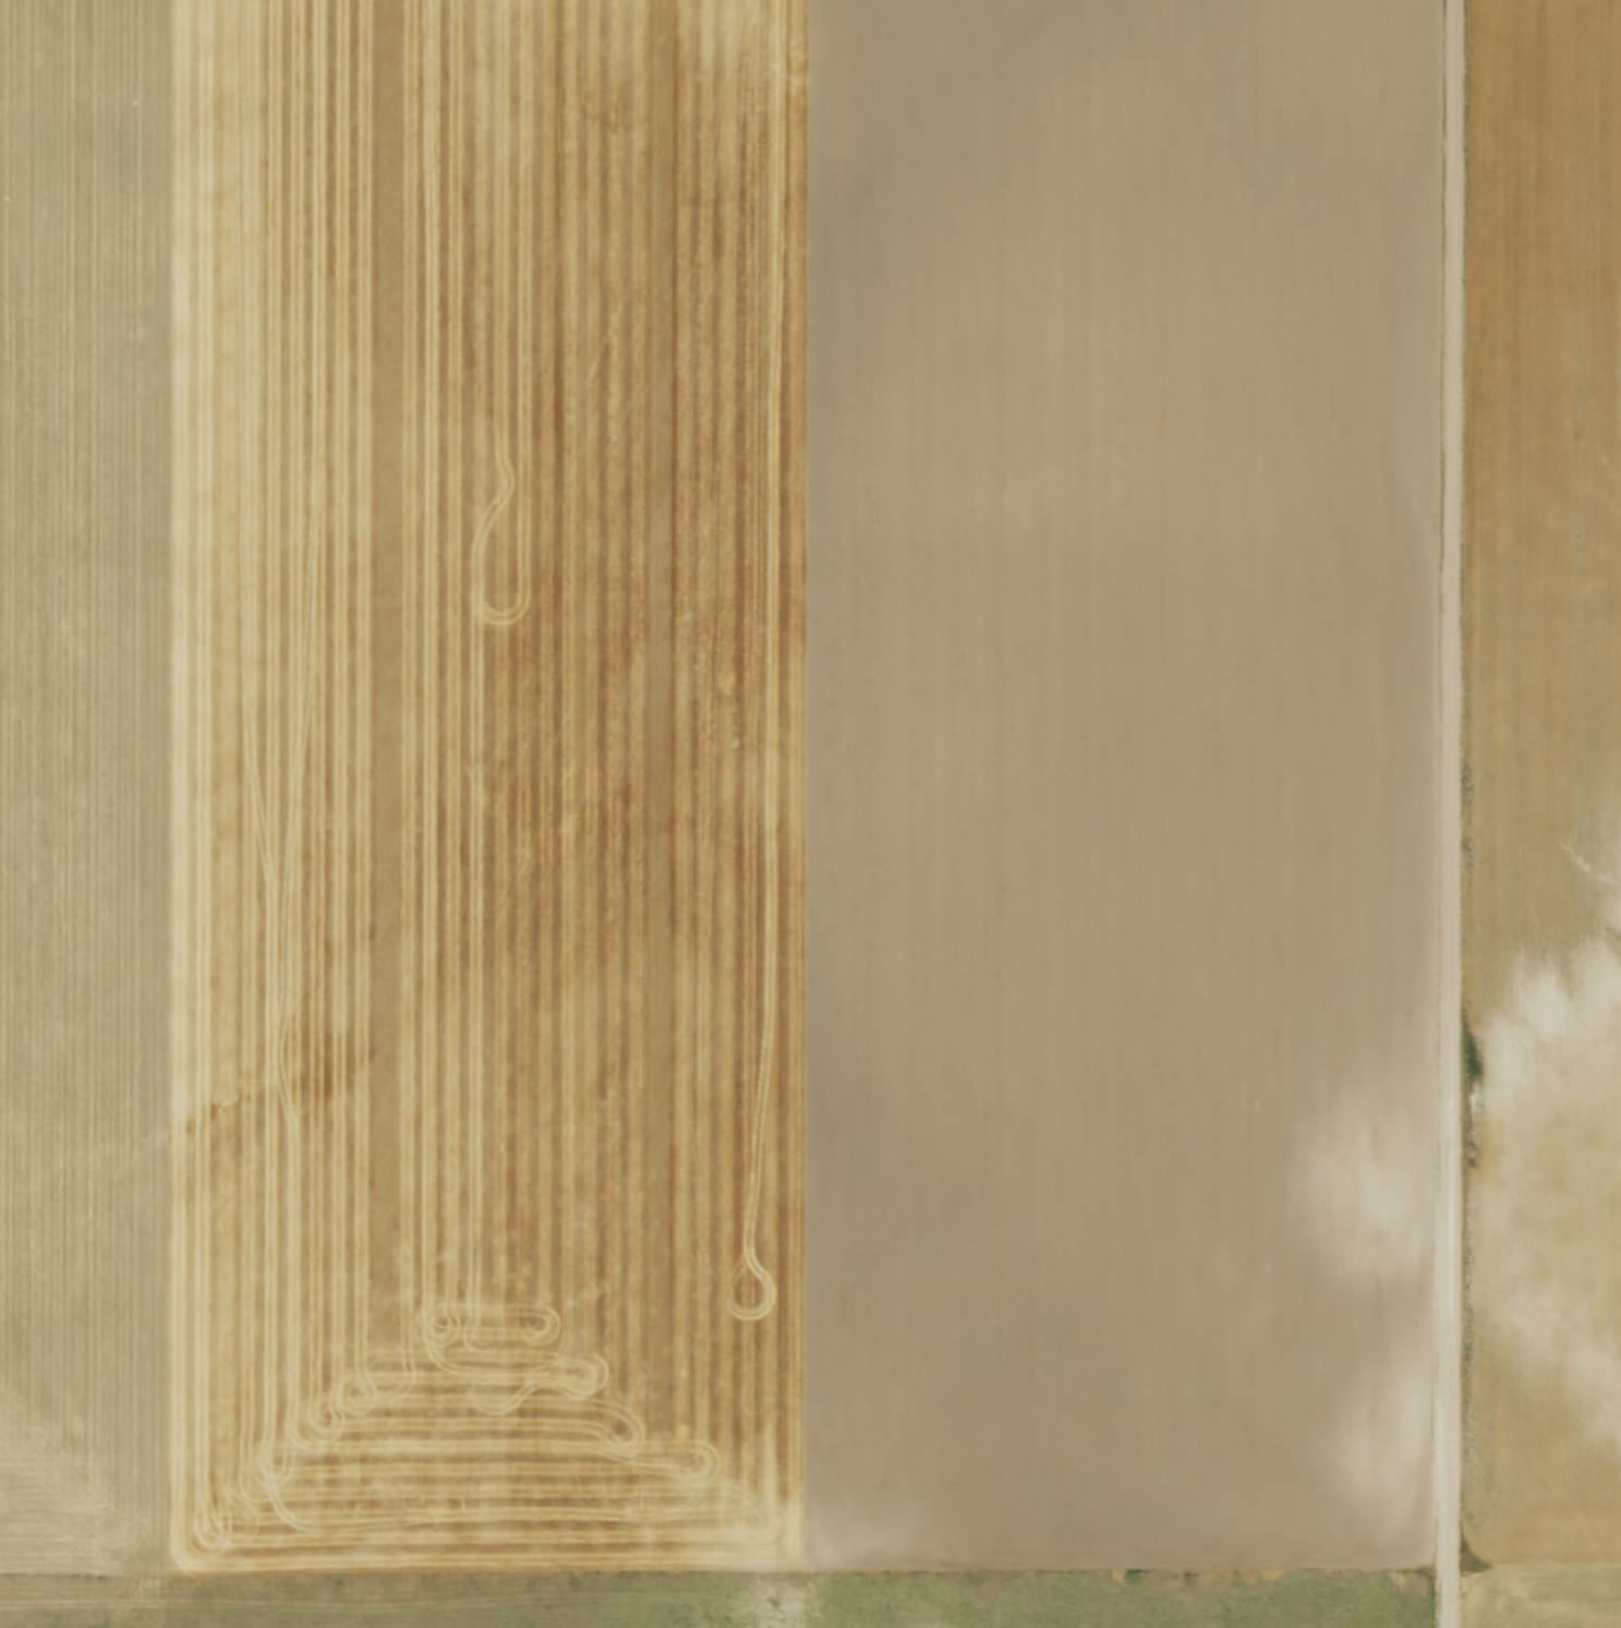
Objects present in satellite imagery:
crop: (715, 782)
road: (1451, 813)
crop: (1547, 820)

